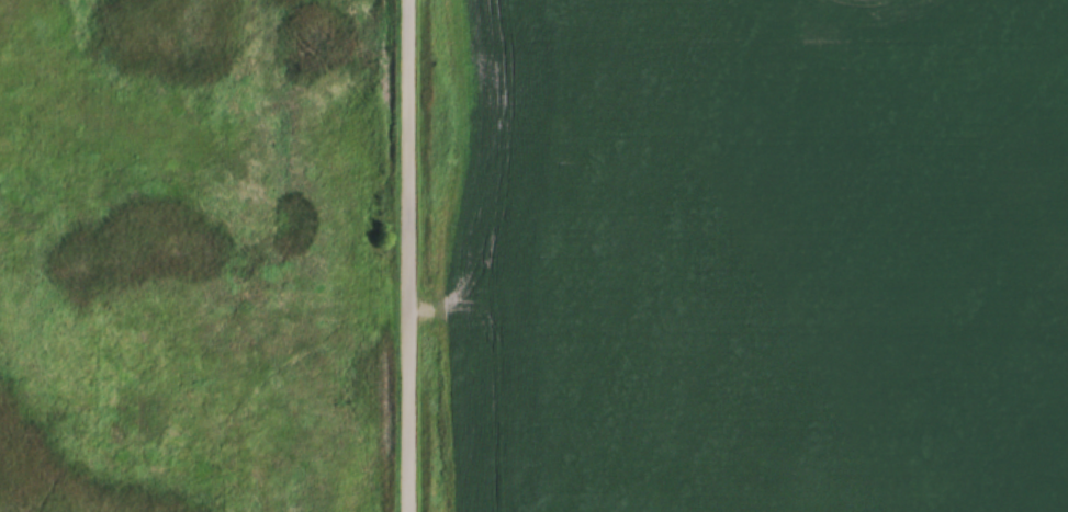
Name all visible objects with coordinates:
road: (409, 255)

